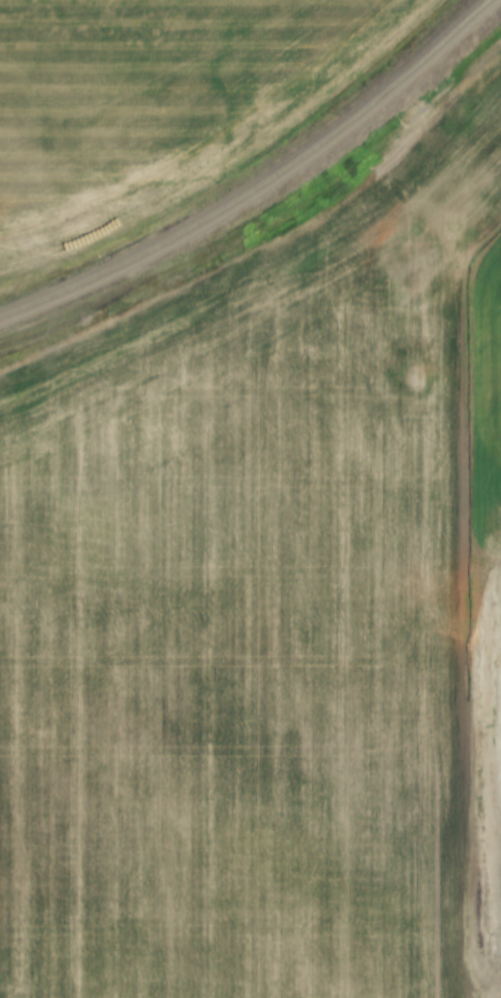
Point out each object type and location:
railway: (259, 184)

